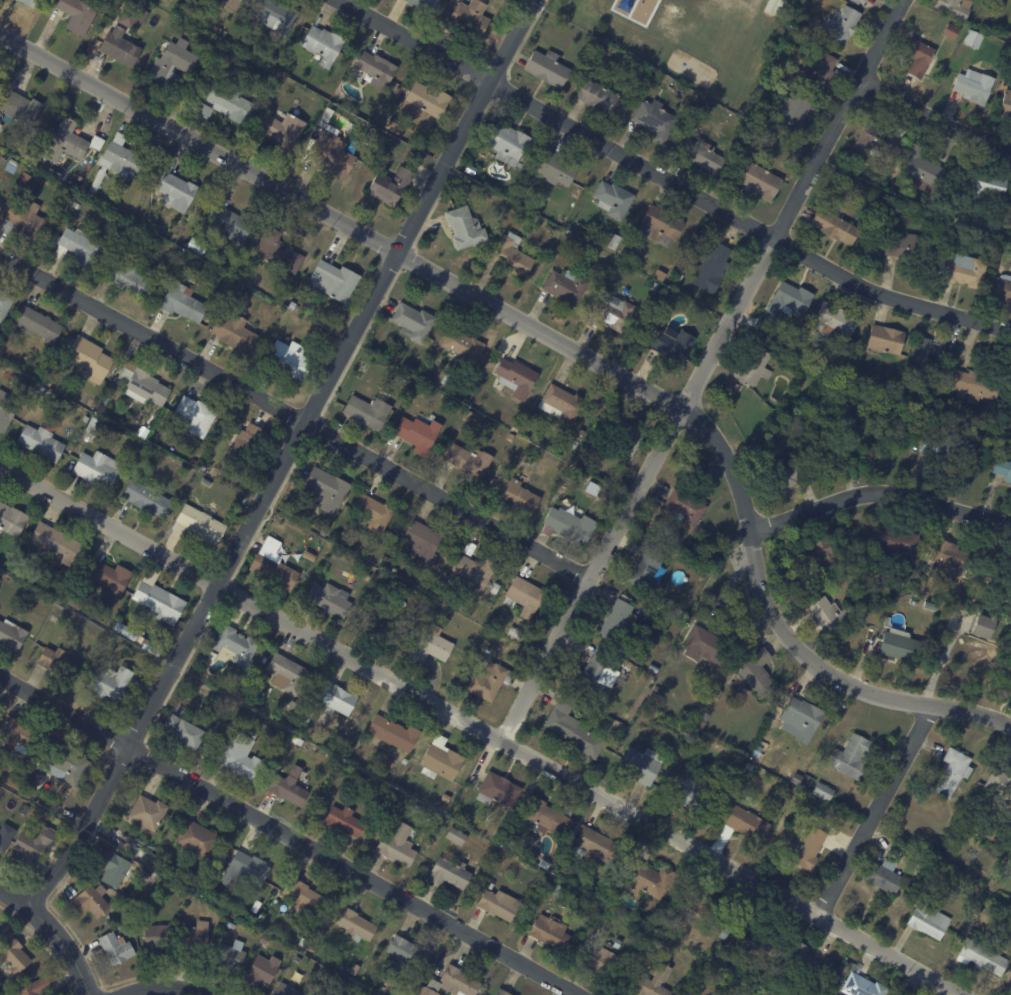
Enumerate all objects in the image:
building: (858, 1)
building: (28, 2)
building: (230, 3)
building: (423, 5)
building: (772, 6)
building: (955, 7)
building: (186, 12)
building: (76, 14)
building: (133, 15)
building: (275, 15)
building: (469, 18)
building: (197, 21)
building: (842, 23)
building: (802, 29)
building: (952, 30)
building: (219, 31)
building: (224, 34)
building: (974, 38)
building: (231, 39)
building: (323, 44)
building: (119, 46)
building: (920, 57)
building: (173, 61)
building: (223, 61)
building: (246, 67)
building: (547, 67)
building: (375, 70)
building: (813, 72)
building: (240, 81)
building: (258, 81)
building: (398, 86)
building: (974, 86)
building: (767, 87)
building: (597, 96)
building: (425, 100)
building: (229, 101)
building: (1007, 101)
building: (20, 109)
building: (205, 110)
building: (0, 112)
building: (793, 113)
building: (654, 118)
road: (933, 118)
building: (0, 125)
building: (281, 128)
building: (392, 128)
building: (50, 129)
building: (373, 133)
building: (380, 138)
building: (879, 139)
building: (65, 142)
building: (96, 142)
building: (507, 143)
building: (332, 153)
building: (701, 154)
building: (385, 159)
building: (31, 160)
building: (117, 161)
building: (555, 169)
building: (919, 169)
building: (474, 176)
road: (671, 177)
building: (22, 179)
building: (762, 182)
building: (990, 184)
building: (390, 186)
building: (125, 187)
building: (176, 191)
building: (613, 199)
building: (76, 205)
building: (502, 205)
building: (24, 219)
building: (562, 220)
building: (229, 222)
building: (661, 225)
building: (834, 226)
building: (464, 228)
building: (614, 241)
building: (905, 246)
building: (77, 247)
building: (196, 247)
building: (279, 252)
building: (511, 254)
building: (484, 264)
building: (711, 266)
building: (967, 270)
building: (238, 277)
building: (658, 277)
building: (129, 278)
building: (678, 278)
building: (333, 280)
building: (566, 285)
building: (654, 286)
building: (1001, 288)
building: (295, 298)
building: (790, 300)
building: (182, 302)
building: (5, 303)
building: (292, 305)
building: (613, 309)
building: (836, 319)
building: (413, 320)
building: (36, 324)
building: (816, 325)
building: (234, 332)
building: (886, 339)
building: (465, 342)
road: (562, 343)
building: (674, 345)
building: (86, 358)
building: (289, 360)
building: (927, 361)
building: (754, 367)
road: (704, 368)
building: (516, 375)
building: (446, 381)
building: (47, 383)
building: (142, 384)
building: (975, 385)
building: (420, 389)
building: (42, 390)
building: (466, 400)
building: (561, 402)
building: (818, 408)
building: (5, 410)
building: (367, 410)
building: (195, 414)
road: (294, 414)
building: (467, 416)
building: (95, 427)
building: (418, 432)
building: (579, 433)
building: (144, 434)
building: (625, 435)
building: (511, 437)
building: (40, 443)
building: (576, 444)
building: (246, 445)
building: (948, 446)
road: (284, 450)
building: (148, 457)
building: (469, 458)
building: (193, 463)
building: (97, 469)
building: (1004, 469)
building: (215, 471)
building: (786, 475)
building: (326, 485)
road: (879, 492)
building: (515, 493)
building: (146, 498)
building: (685, 507)
building: (373, 511)
building: (12, 520)
building: (571, 523)
building: (201, 525)
building: (324, 530)
building: (337, 535)
building: (421, 540)
building: (54, 545)
building: (899, 547)
building: (310, 555)
building: (815, 555)
building: (948, 559)
building: (274, 564)
building: (394, 569)
building: (474, 569)
building: (647, 569)
building: (367, 577)
building: (110, 578)
building: (1010, 586)
building: (496, 588)
building: (920, 588)
building: (525, 595)
building: (329, 597)
building: (158, 599)
building: (932, 604)
building: (830, 615)
building: (615, 619)
building: (369, 624)
building: (985, 627)
building: (388, 630)
building: (125, 631)
building: (514, 632)
building: (42, 634)
building: (11, 635)
building: (145, 643)
building: (235, 644)
building: (430, 644)
building: (710, 644)
building: (899, 645)
building: (210, 657)
building: (203, 660)
building: (56, 662)
building: (653, 667)
building: (757, 671)
building: (287, 673)
building: (598, 673)
building: (1007, 675)
building: (489, 679)
building: (110, 684)
building: (718, 693)
building: (336, 697)
building: (292, 706)
building: (306, 715)
building: (237, 716)
building: (801, 718)
building: (611, 719)
building: (704, 721)
building: (616, 723)
road: (485, 726)
building: (574, 727)
building: (181, 730)
building: (686, 731)
building: (393, 732)
building: (18, 736)
building: (296, 739)
building: (310, 748)
building: (240, 753)
building: (854, 755)
building: (440, 758)
building: (405, 761)
building: (642, 764)
building: (749, 765)
building: (65, 767)
building: (952, 771)
building: (797, 778)
building: (999, 783)
building: (288, 786)
building: (498, 789)
building: (823, 791)
building: (692, 794)
building: (417, 808)
building: (25, 810)
road: (874, 810)
building: (813, 811)
building: (147, 812)
building: (544, 815)
building: (46, 819)
building: (344, 820)
building: (748, 823)
road: (289, 835)
building: (456, 835)
building: (5, 837)
building: (196, 837)
building: (594, 844)
building: (397, 845)
building: (33, 846)
building: (809, 848)
building: (135, 849)
building: (898, 851)
building: (142, 853)
building: (244, 867)
building: (113, 868)
building: (449, 872)
building: (886, 876)
building: (646, 878)
road: (16, 889)
building: (549, 889)
building: (558, 890)
building: (300, 893)
building: (543, 898)
building: (701, 898)
building: (90, 900)
building: (499, 904)
building: (255, 905)
building: (110, 912)
building: (978, 912)
building: (929, 920)
building: (228, 924)
building: (355, 924)
building: (549, 931)
building: (724, 932)
building: (155, 939)
building: (264, 939)
building: (192, 941)
building: (757, 941)
building: (616, 943)
building: (658, 943)
road: (66, 944)
building: (115, 947)
building: (314, 947)
building: (406, 952)
building: (227, 955)
building: (803, 956)
building: (13, 957)
building: (982, 957)
building: (596, 958)
building: (776, 966)
building: (355, 969)
building: (844, 970)
building: (261, 971)
road: (159, 982)
building: (1010, 982)
building: (452, 983)
building: (654, 983)
building: (863, 986)
building: (34, 987)
building: (285, 990)
building: (502, 992)
building: (1010, 993)
building: (312, 994)
building: (322, 994)

